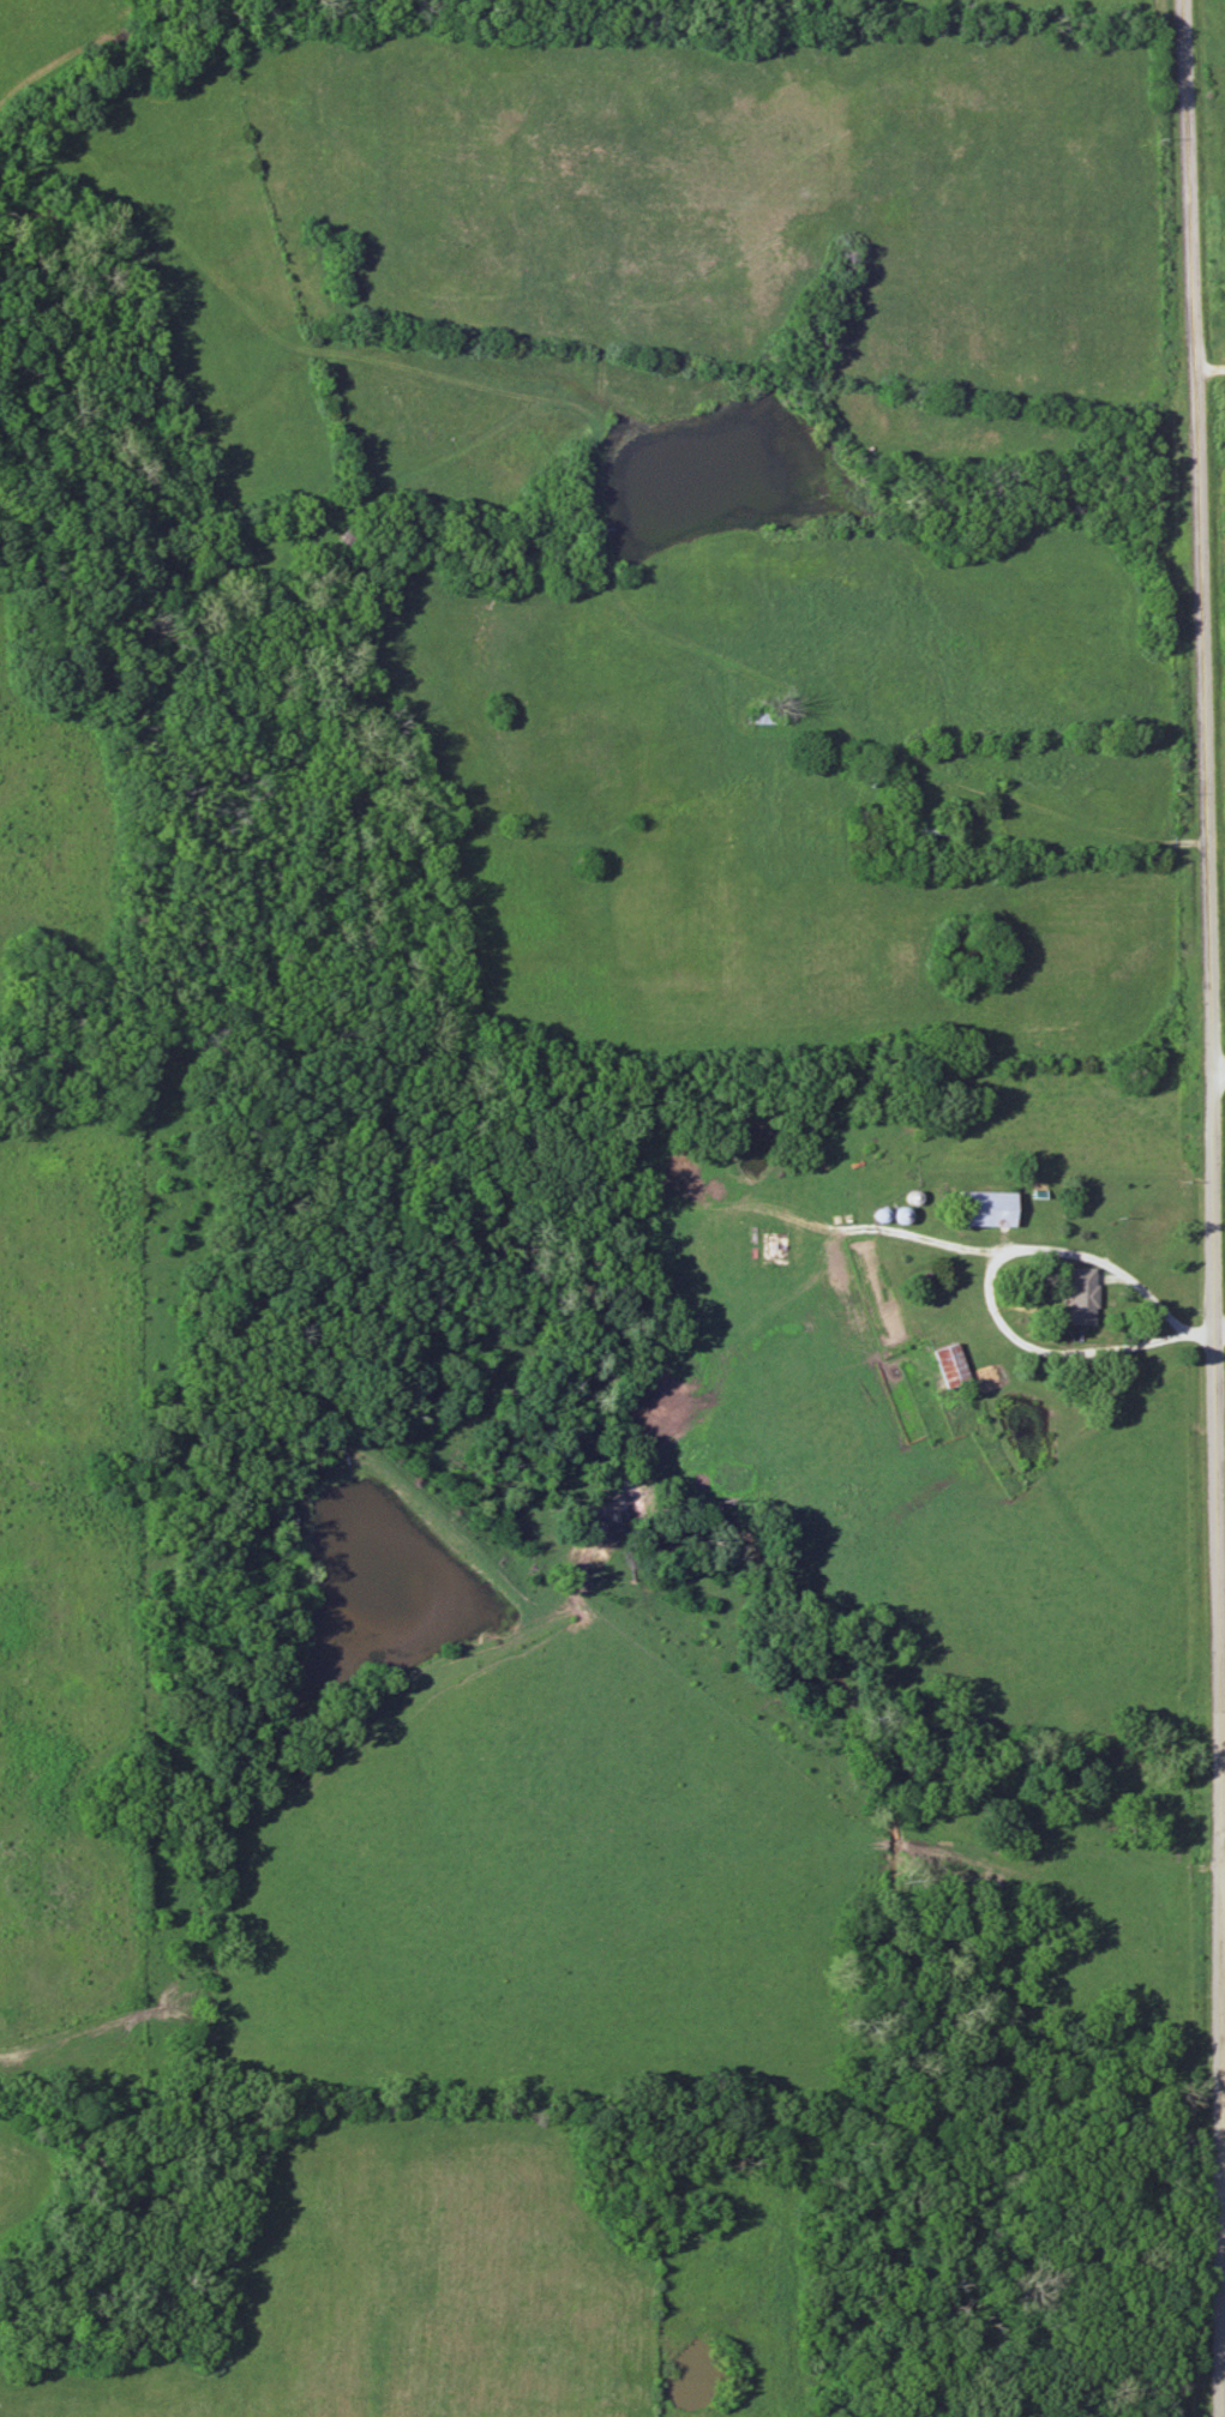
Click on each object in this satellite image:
road: (1206, 375)
building: (769, 719)
road: (1062, 816)
road: (1219, 1075)
building: (985, 1208)
road: (1214, 1208)
building: (1081, 1295)
road: (1001, 1321)
road: (1220, 1329)
road: (1205, 1339)
building: (950, 1365)
road: (1223, 2217)

